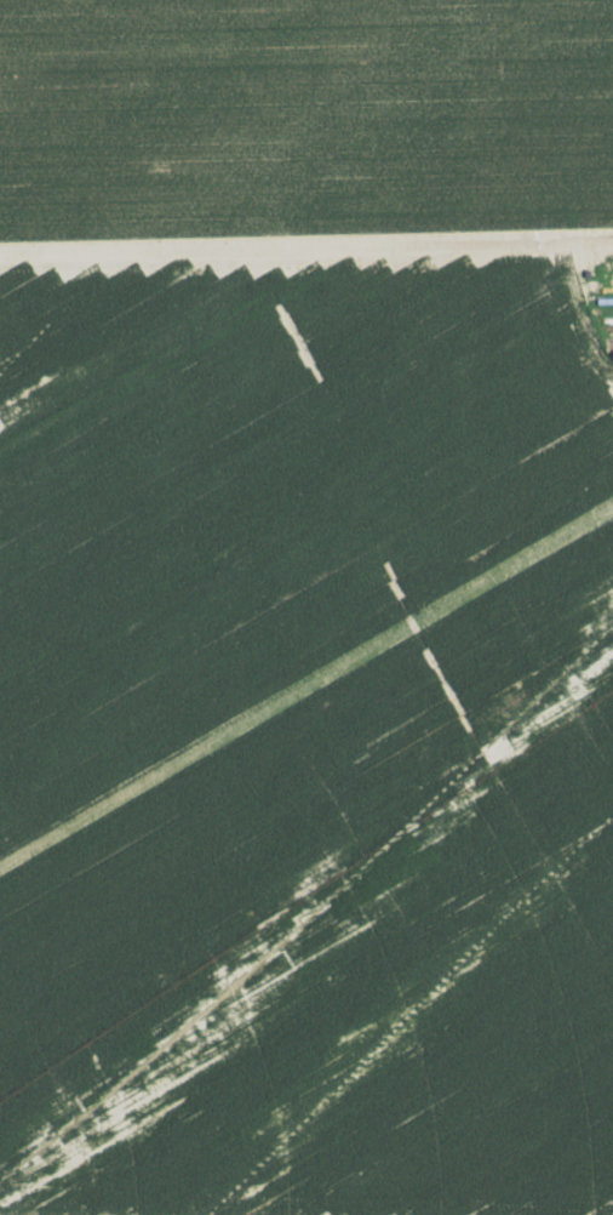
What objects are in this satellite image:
road: (179, 89)
road: (306, 240)

